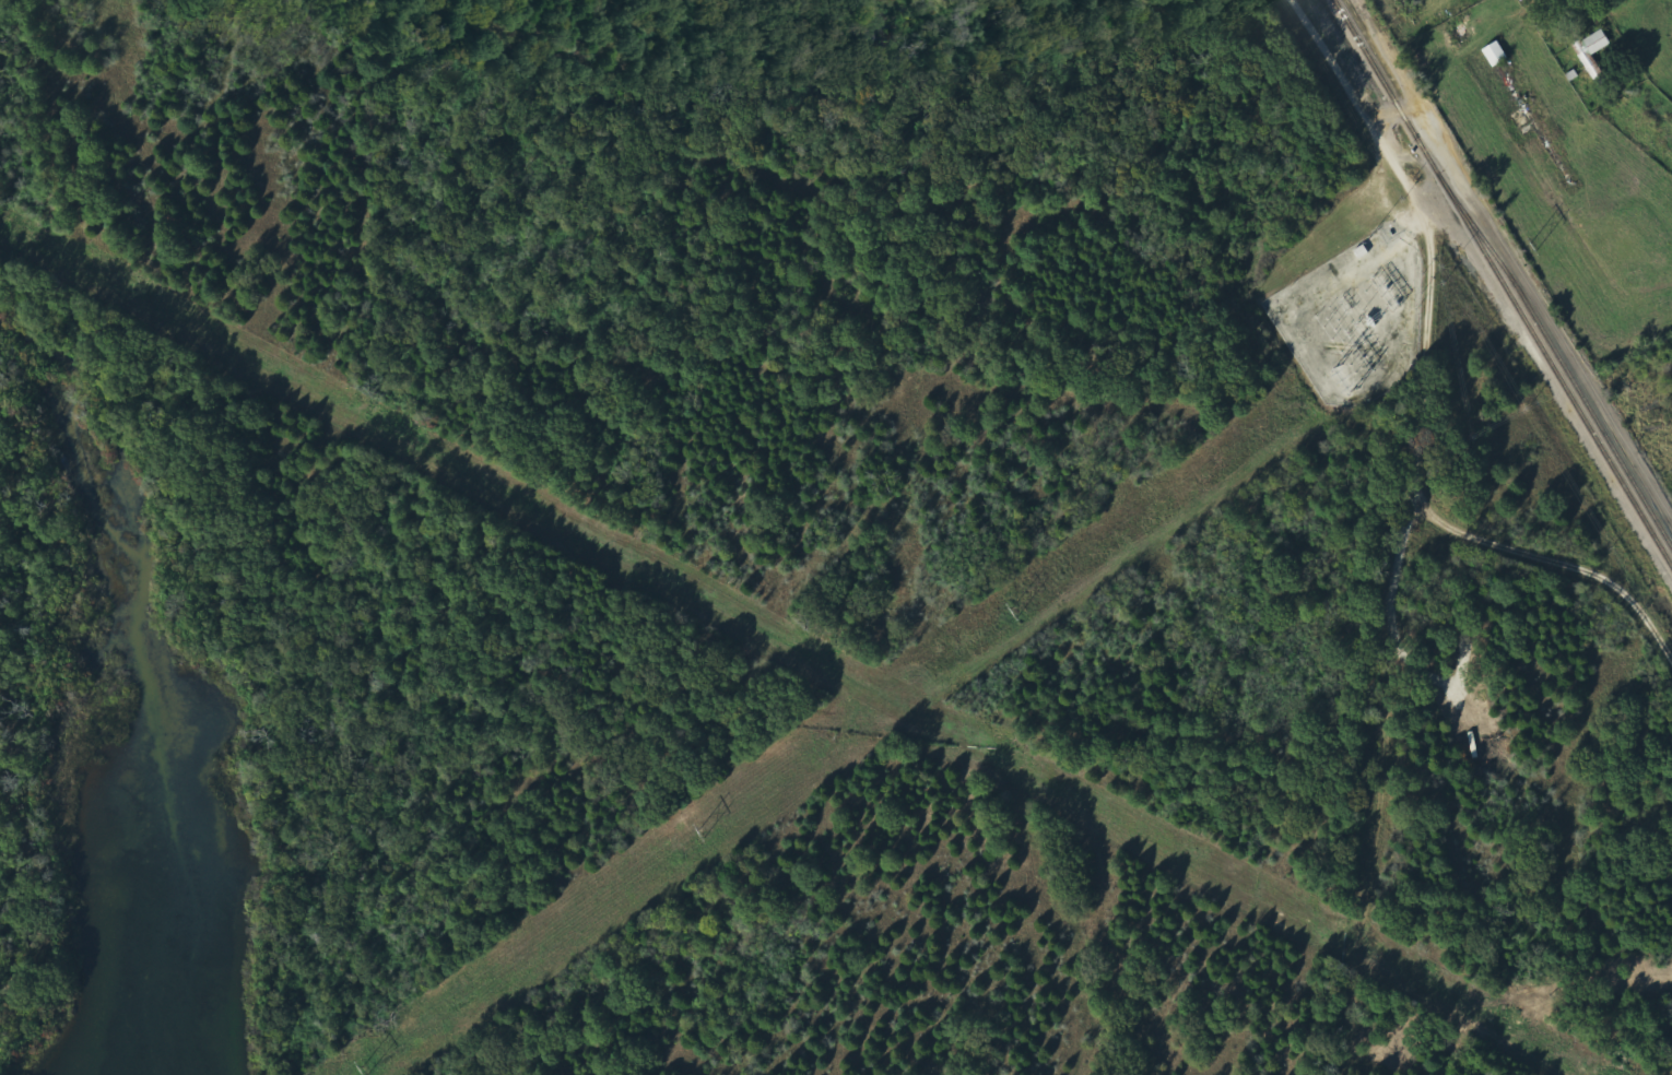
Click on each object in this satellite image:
building: (1596, 47)
building: (1497, 55)
power tower: (1532, 246)
railway: (1502, 284)
power substation: (1355, 319)
road: (1400, 349)
railway: (1565, 368)
power tower: (1015, 611)
power tower: (702, 830)
power tower: (365, 1068)

